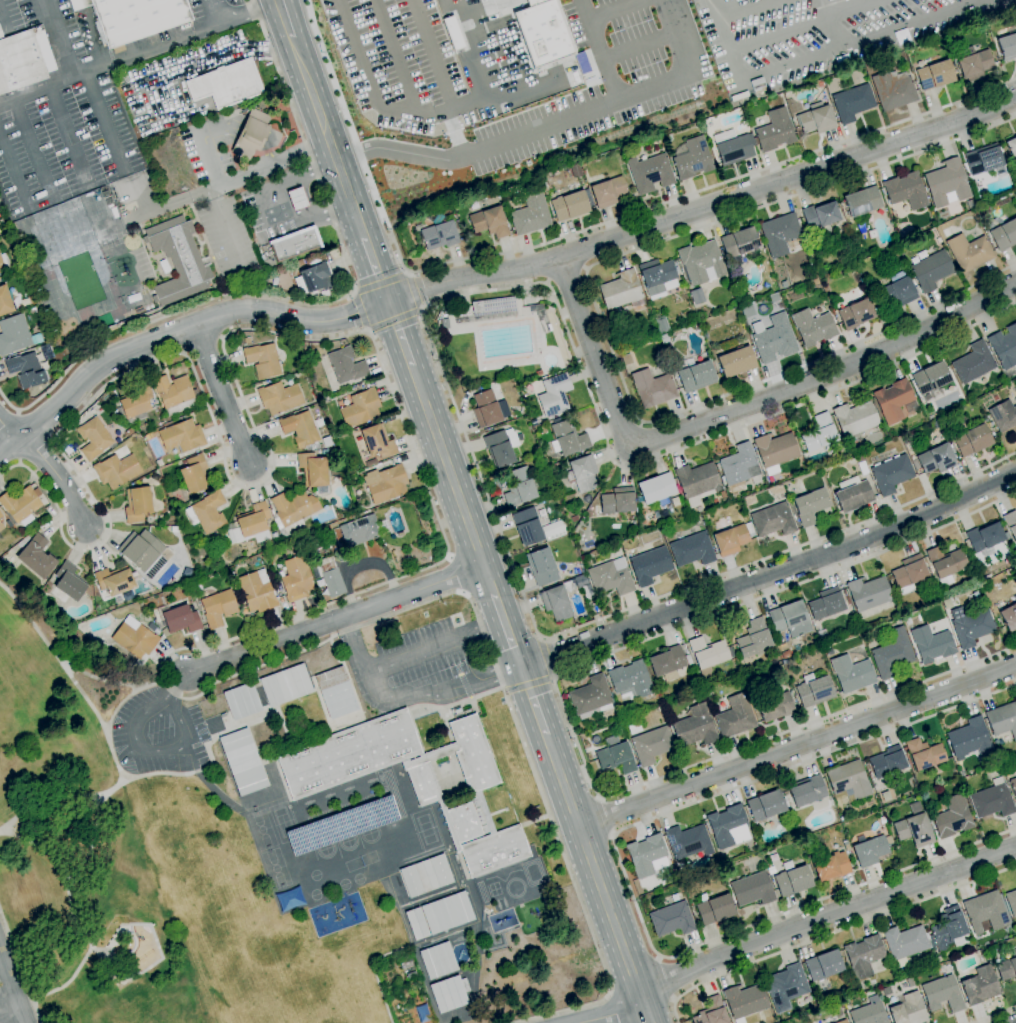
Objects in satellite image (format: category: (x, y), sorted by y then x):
road: (81, 4)
road: (610, 8)
road: (741, 8)
road: (216, 11)
road: (248, 13)
building: (134, 18)
road: (3, 19)
road: (285, 19)
road: (121, 21)
road: (169, 21)
road: (827, 24)
road: (803, 25)
building: (540, 32)
road: (677, 35)
road: (92, 36)
road: (59, 37)
road: (726, 39)
road: (638, 41)
road: (857, 41)
building: (1007, 45)
road: (132, 49)
road: (599, 49)
road: (430, 53)
road: (218, 55)
road: (395, 55)
building: (24, 59)
road: (109, 62)
building: (973, 63)
building: (935, 75)
building: (821, 83)
building: (227, 84)
road: (369, 84)
building: (758, 85)
building: (893, 89)
road: (478, 101)
building: (852, 103)
building: (816, 119)
road: (103, 121)
road: (221, 125)
building: (775, 131)
road: (253, 133)
road: (65, 134)
building: (251, 134)
road: (515, 135)
road: (328, 137)
road: (31, 147)
building: (733, 147)
building: (1011, 147)
road: (269, 152)
road: (302, 152)
road: (209, 158)
building: (691, 158)
building: (983, 159)
road: (13, 170)
building: (650, 173)
road: (247, 174)
building: (947, 183)
building: (906, 191)
building: (608, 192)
building: (297, 199)
gas station: (297, 199)
building: (862, 201)
road: (169, 203)
building: (569, 205)
road: (272, 206)
road: (704, 210)
building: (821, 214)
building: (531, 215)
road: (223, 220)
building: (490, 222)
building: (463, 230)
building: (438, 233)
road: (577, 233)
building: (779, 234)
building: (1004, 235)
building: (295, 244)
building: (739, 246)
building: (932, 249)
building: (969, 252)
building: (178, 260)
building: (701, 262)
building: (4, 263)
building: (164, 266)
building: (855, 267)
building: (823, 268)
road: (375, 269)
building: (931, 270)
road: (566, 275)
building: (816, 276)
building: (658, 277)
building: (315, 278)
building: (815, 281)
road: (381, 283)
building: (784, 285)
building: (898, 290)
road: (414, 291)
building: (622, 291)
building: (697, 296)
building: (5, 301)
road: (310, 301)
building: (25, 303)
road: (360, 311)
building: (504, 311)
building: (856, 314)
road: (395, 319)
building: (444, 323)
road: (602, 324)
building: (661, 325)
building: (813, 327)
building: (109, 330)
road: (176, 332)
building: (13, 334)
road: (399, 334)
building: (775, 339)
building: (727, 344)
building: (1004, 346)
road: (436, 358)
building: (263, 360)
building: (627, 360)
building: (736, 362)
building: (974, 362)
building: (346, 365)
building: (25, 370)
building: (539, 373)
building: (696, 375)
building: (931, 380)
building: (652, 388)
building: (174, 394)
building: (554, 395)
road: (222, 396)
building: (279, 397)
building: (895, 401)
building: (135, 403)
building: (360, 408)
building: (489, 409)
road: (733, 410)
building: (1003, 415)
road: (7, 417)
building: (855, 420)
building: (937, 424)
building: (991, 424)
road: (9, 429)
building: (301, 430)
building: (128, 432)
building: (819, 433)
building: (182, 436)
building: (567, 438)
building: (94, 439)
building: (972, 440)
building: (377, 442)
building: (905, 443)
building: (501, 447)
building: (775, 450)
building: (937, 459)
building: (370, 462)
building: (159, 463)
building: (740, 466)
building: (116, 470)
building: (347, 470)
building: (313, 471)
building: (193, 473)
building: (582, 473)
building: (891, 473)
road: (58, 476)
road: (453, 480)
building: (697, 481)
building: (388, 485)
building: (519, 487)
building: (657, 489)
building: (723, 494)
building: (852, 494)
building: (639, 499)
building: (617, 501)
building: (139, 503)
building: (21, 505)
building: (810, 506)
building: (292, 511)
building: (207, 512)
building: (1, 515)
building: (574, 519)
building: (772, 520)
building: (1010, 522)
building: (2, 524)
building: (250, 525)
building: (527, 526)
building: (1, 528)
building: (174, 529)
building: (360, 530)
building: (657, 531)
building: (274, 536)
building: (1, 537)
building: (217, 537)
building: (985, 537)
building: (733, 539)
building: (23, 542)
building: (1015, 544)
building: (295, 548)
building: (384, 549)
building: (692, 549)
building: (997, 549)
building: (219, 552)
building: (145, 553)
building: (36, 557)
road: (442, 561)
building: (3, 562)
building: (946, 564)
building: (649, 565)
building: (1015, 565)
building: (542, 566)
building: (198, 573)
building: (909, 573)
road: (770, 575)
building: (611, 577)
building: (296, 579)
building: (332, 579)
building: (114, 580)
building: (67, 584)
building: (583, 585)
building: (256, 591)
building: (868, 593)
building: (558, 600)
building: (848, 601)
building: (140, 603)
building: (826, 604)
building: (218, 608)
building: (1008, 617)
building: (179, 618)
building: (790, 619)
road: (328, 621)
building: (151, 626)
building: (970, 626)
road: (508, 633)
building: (822, 635)
building: (134, 638)
building: (753, 638)
building: (931, 643)
road: (442, 644)
road: (354, 648)
building: (829, 651)
building: (892, 654)
road: (546, 655)
building: (707, 655)
road: (57, 656)
building: (688, 660)
building: (667, 663)
parking lot: (406, 665)
road: (508, 671)
building: (851, 673)
building: (630, 680)
building: (738, 680)
road: (528, 684)
building: (286, 685)
road: (172, 687)
building: (814, 690)
building: (334, 692)
road: (428, 695)
building: (591, 697)
building: (242, 701)
road: (534, 704)
building: (775, 706)
building: (659, 709)
road: (565, 712)
building: (735, 716)
building: (1002, 719)
building: (633, 726)
building: (694, 727)
parking lot: (157, 733)
building: (968, 737)
building: (651, 745)
road: (797, 746)
road: (153, 751)
building: (473, 753)
building: (348, 754)
building: (924, 754)
building: (430, 756)
building: (615, 756)
building: (590, 757)
building: (243, 762)
building: (887, 762)
road: (122, 780)
building: (848, 781)
building: (424, 784)
building: (1013, 785)
building: (470, 789)
building: (809, 793)
building: (992, 800)
building: (765, 805)
building: (915, 807)
road: (605, 816)
building: (952, 817)
building: (468, 821)
building: (516, 826)
building: (728, 826)
building: (914, 830)
park: (80, 836)
building: (687, 841)
building: (846, 847)
building: (871, 850)
building: (495, 854)
building: (645, 854)
building: (774, 858)
building: (722, 859)
building: (831, 867)
building: (771, 870)
building: (424, 874)
road: (624, 874)
road: (597, 879)
building: (792, 879)
building: (752, 889)
building: (1011, 902)
building: (715, 909)
building: (985, 911)
building: (447, 913)
road: (825, 916)
building: (672, 919)
building: (417, 924)
building: (947, 929)
road: (832, 932)
building: (904, 943)
building: (863, 955)
building: (438, 960)
road: (79, 963)
building: (405, 963)
building: (1007, 967)
road: (19, 969)
building: (823, 969)
building: (411, 975)
building: (917, 976)
road: (667, 979)
building: (910, 982)
building: (979, 985)
building: (786, 987)
building: (856, 988)
building: (449, 993)
building: (942, 994)
road: (9, 995)
building: (744, 1001)
road: (615, 1005)
building: (908, 1009)
road: (7, 1011)
building: (711, 1012)
building: (423, 1013)
road: (609, 1013)
building: (868, 1014)
road: (992, 1014)
building: (841, 1021)

